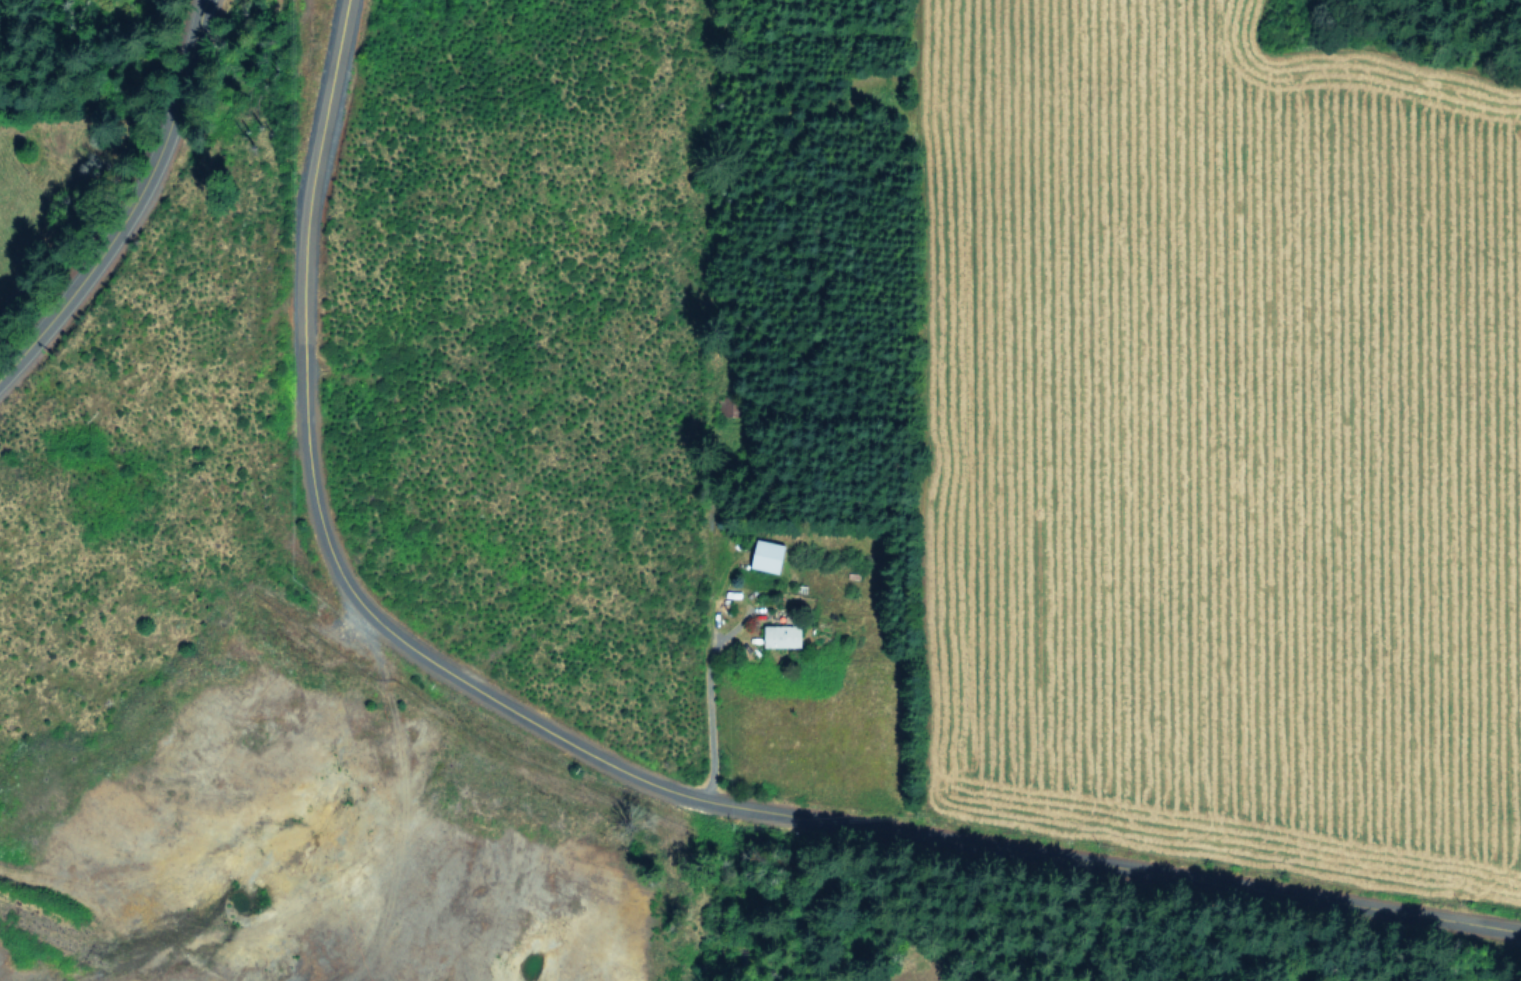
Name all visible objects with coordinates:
road: (126, 196)
building: (769, 556)
road: (698, 631)
building: (783, 636)
road: (613, 763)

